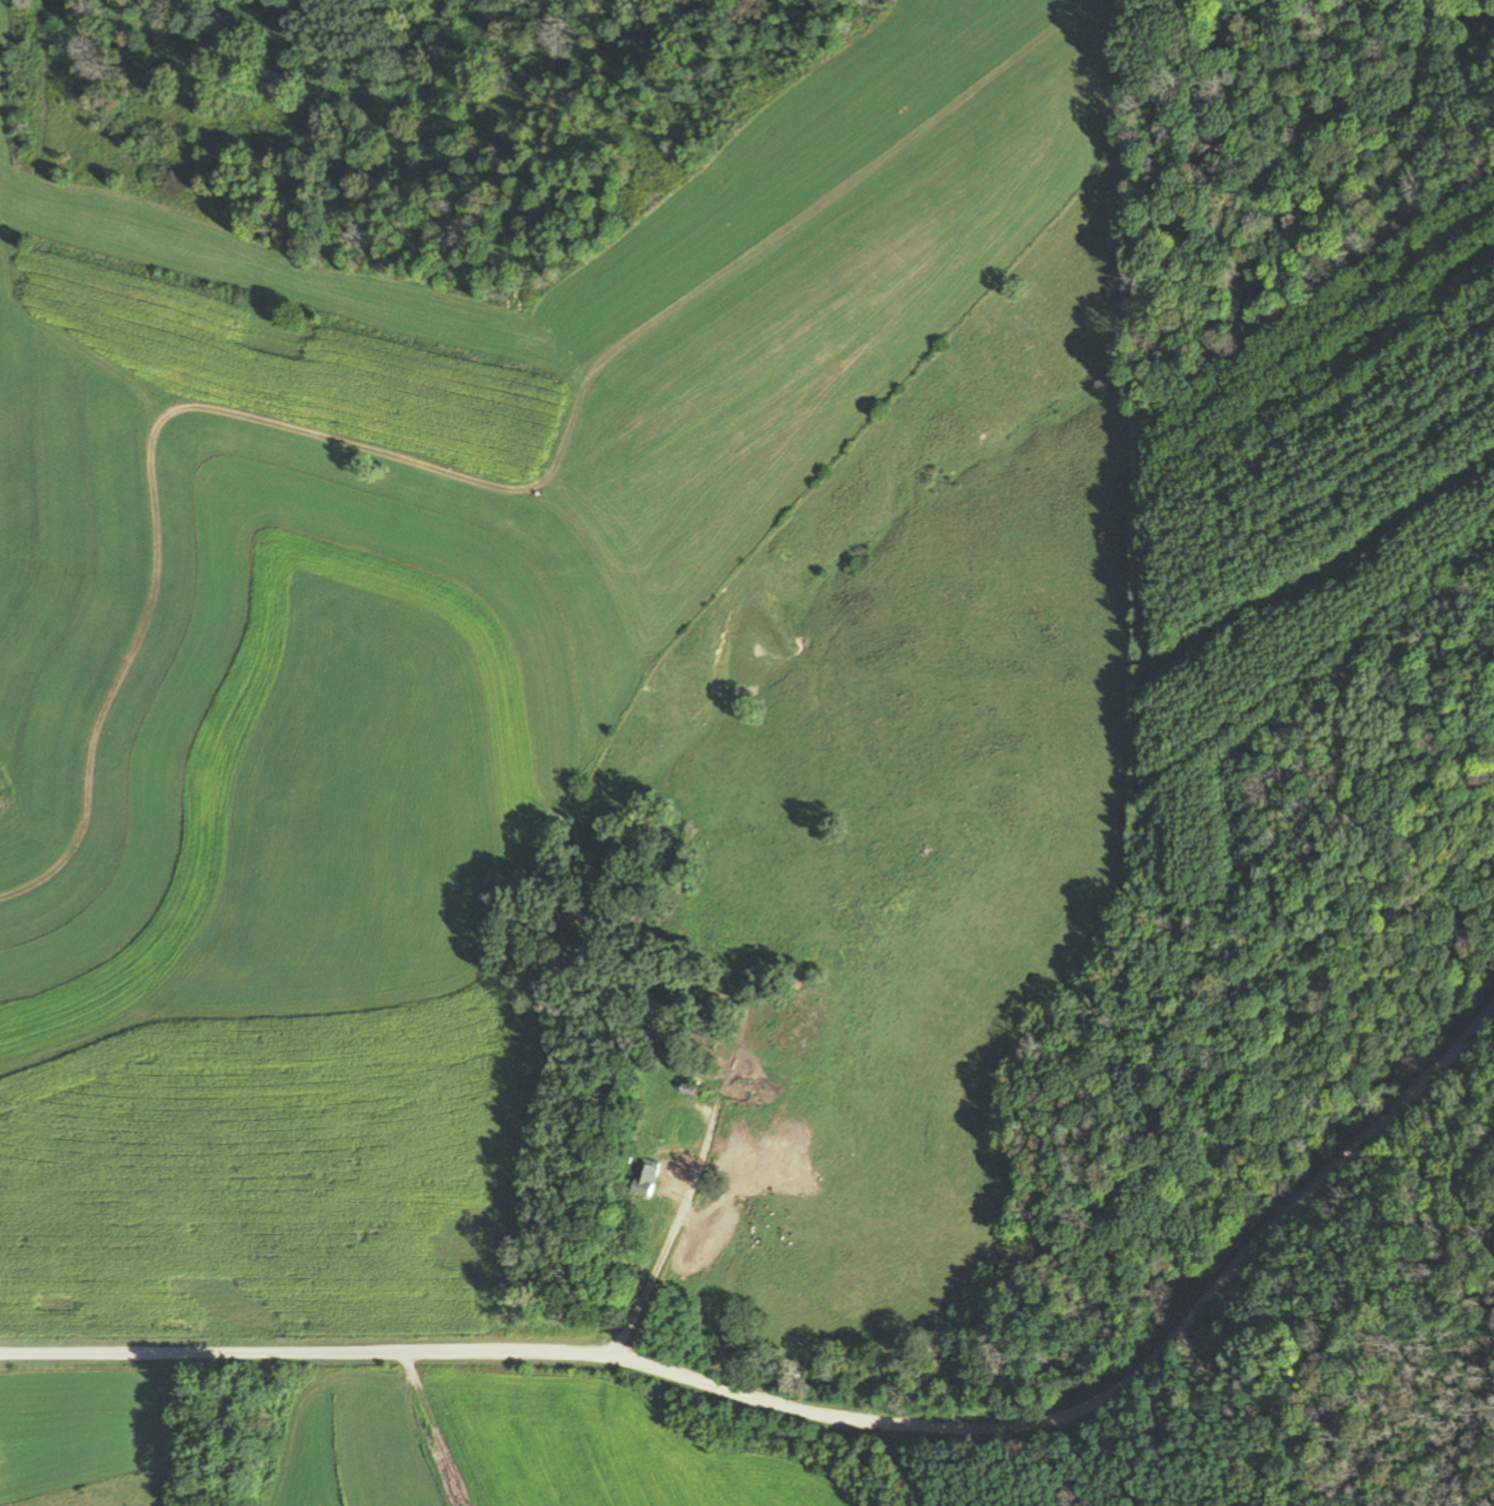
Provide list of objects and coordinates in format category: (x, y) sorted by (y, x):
road: (623, 340)
road: (145, 532)
dam: (774, 628)
building: (665, 1075)
building: (692, 1089)
building: (647, 1178)
road: (675, 1223)
road: (827, 1420)

